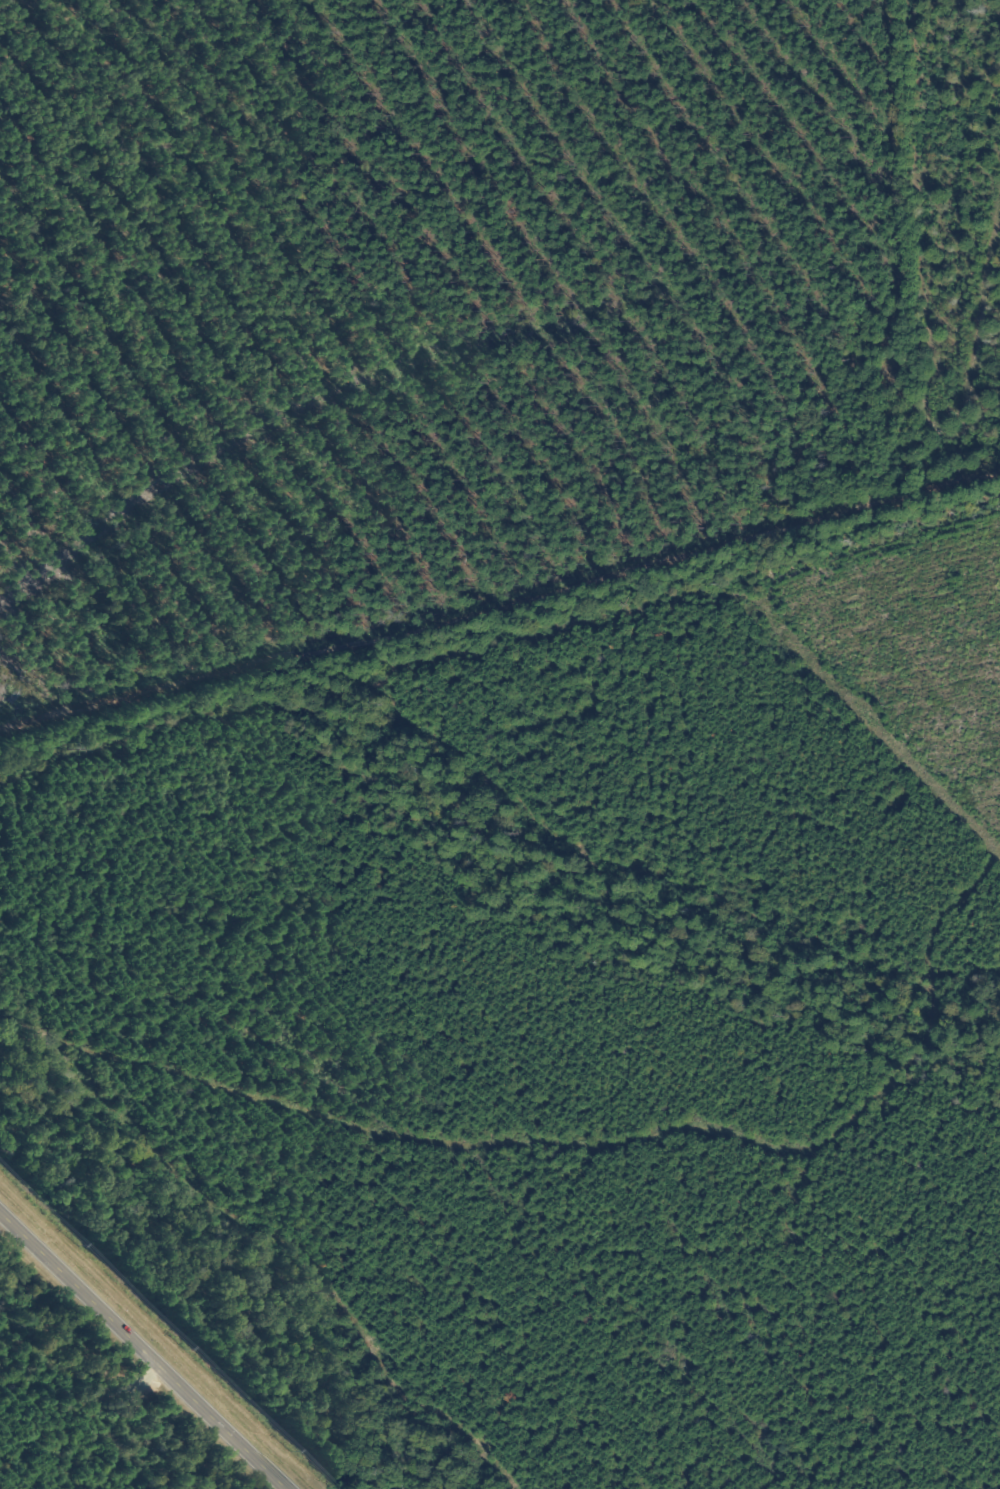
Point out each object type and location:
road: (9, 12)
road: (929, 258)
road: (301, 310)
road: (502, 644)
railway: (160, 1333)
road: (142, 1350)

